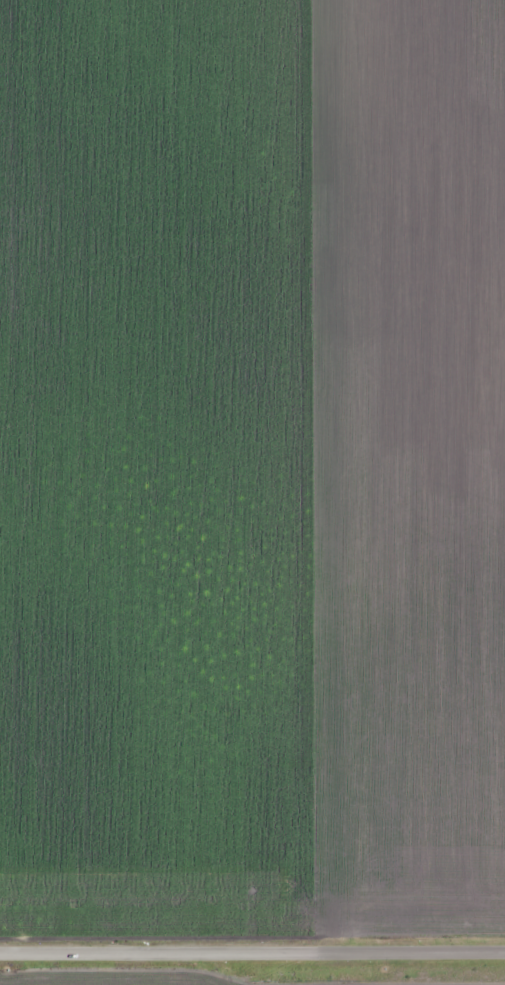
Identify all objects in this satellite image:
road: (252, 952)

